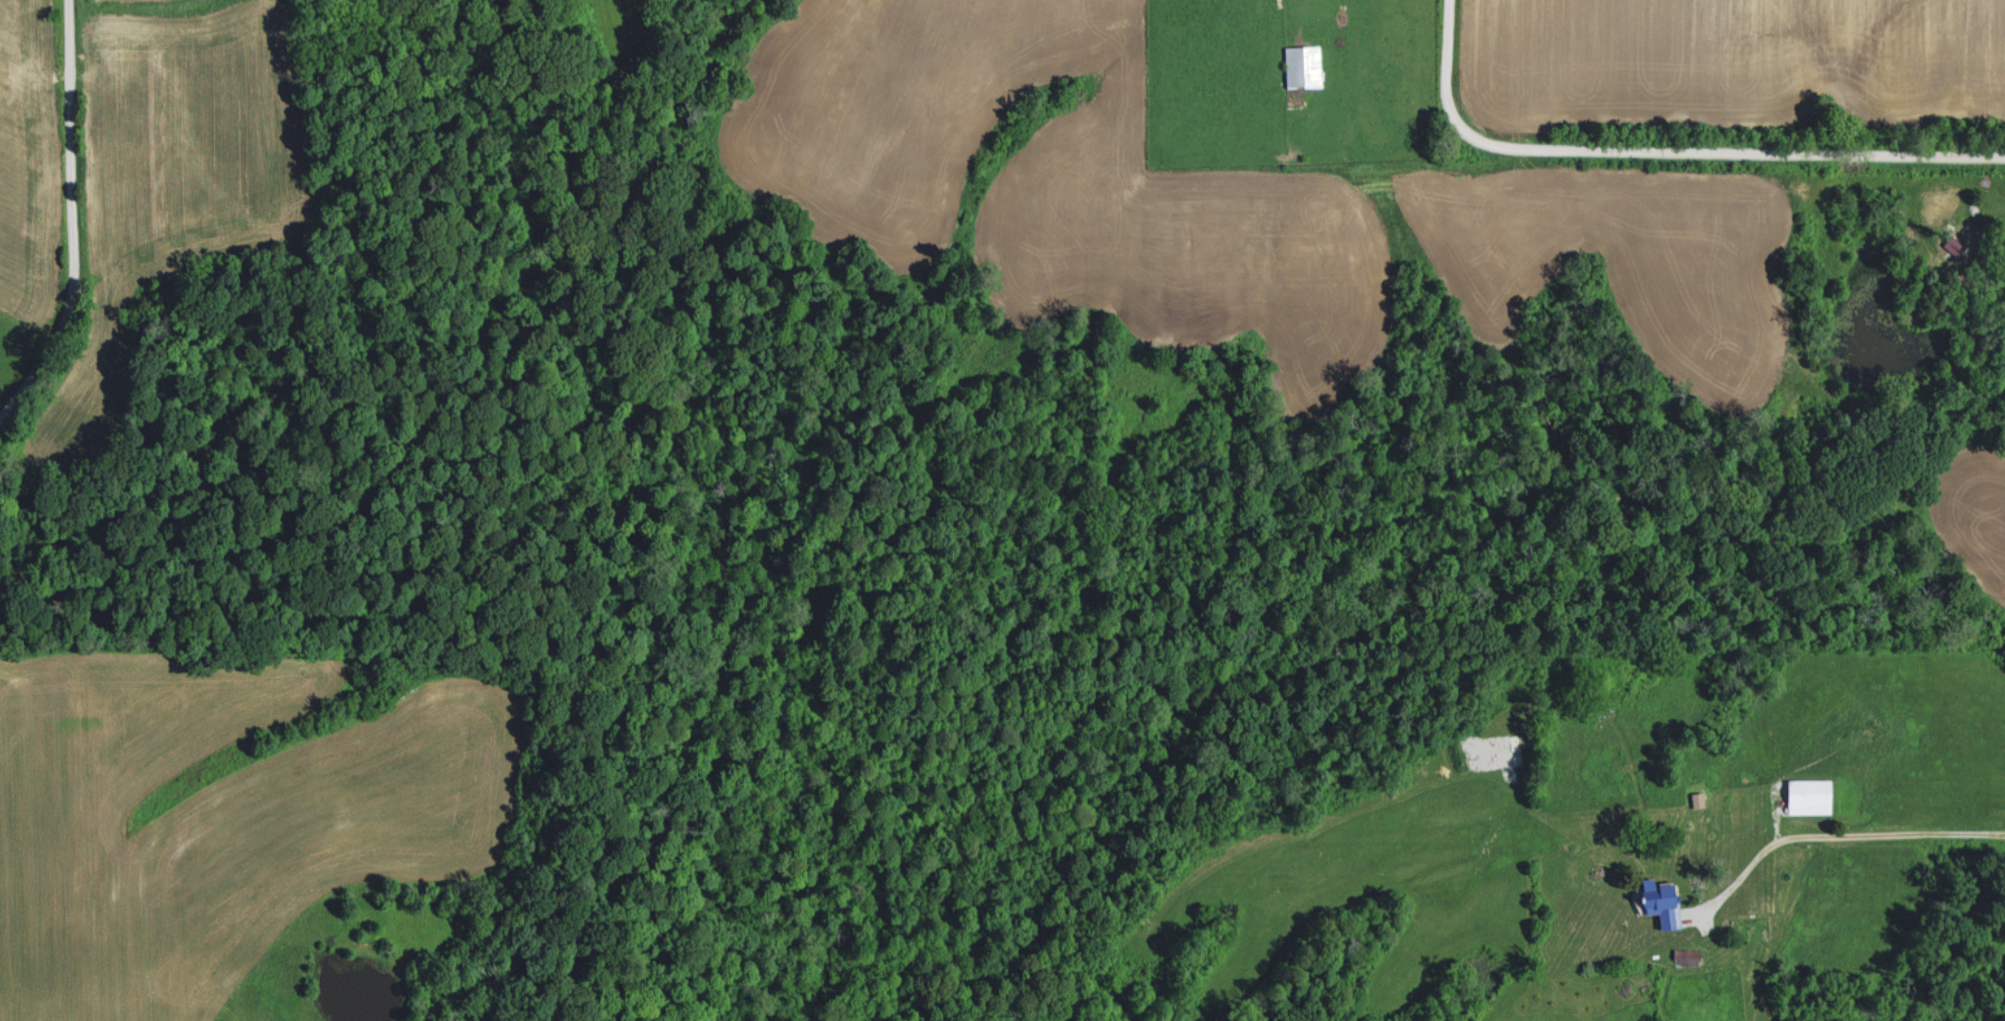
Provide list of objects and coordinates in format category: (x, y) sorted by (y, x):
building: (1306, 65)
road: (1664, 151)
road: (72, 216)
building: (1958, 245)
building: (1813, 796)
road: (1834, 834)
building: (1690, 956)

